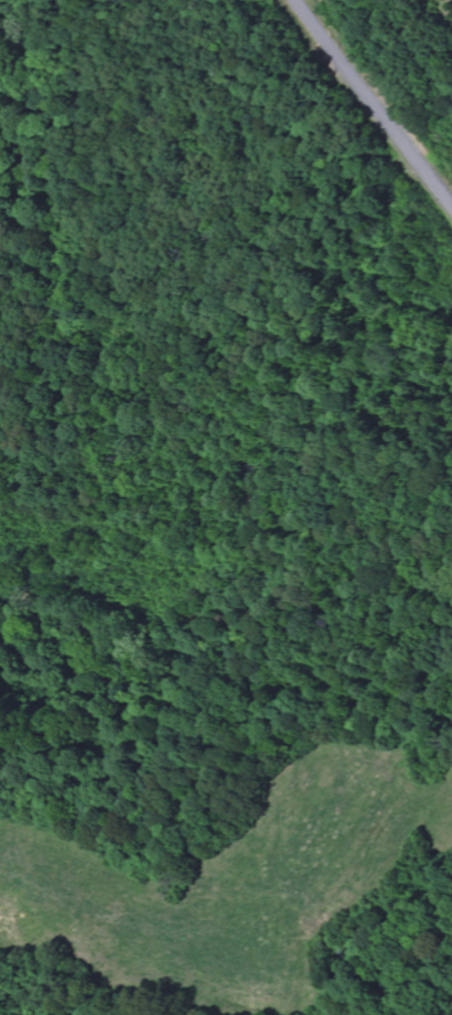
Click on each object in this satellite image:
road: (373, 97)

